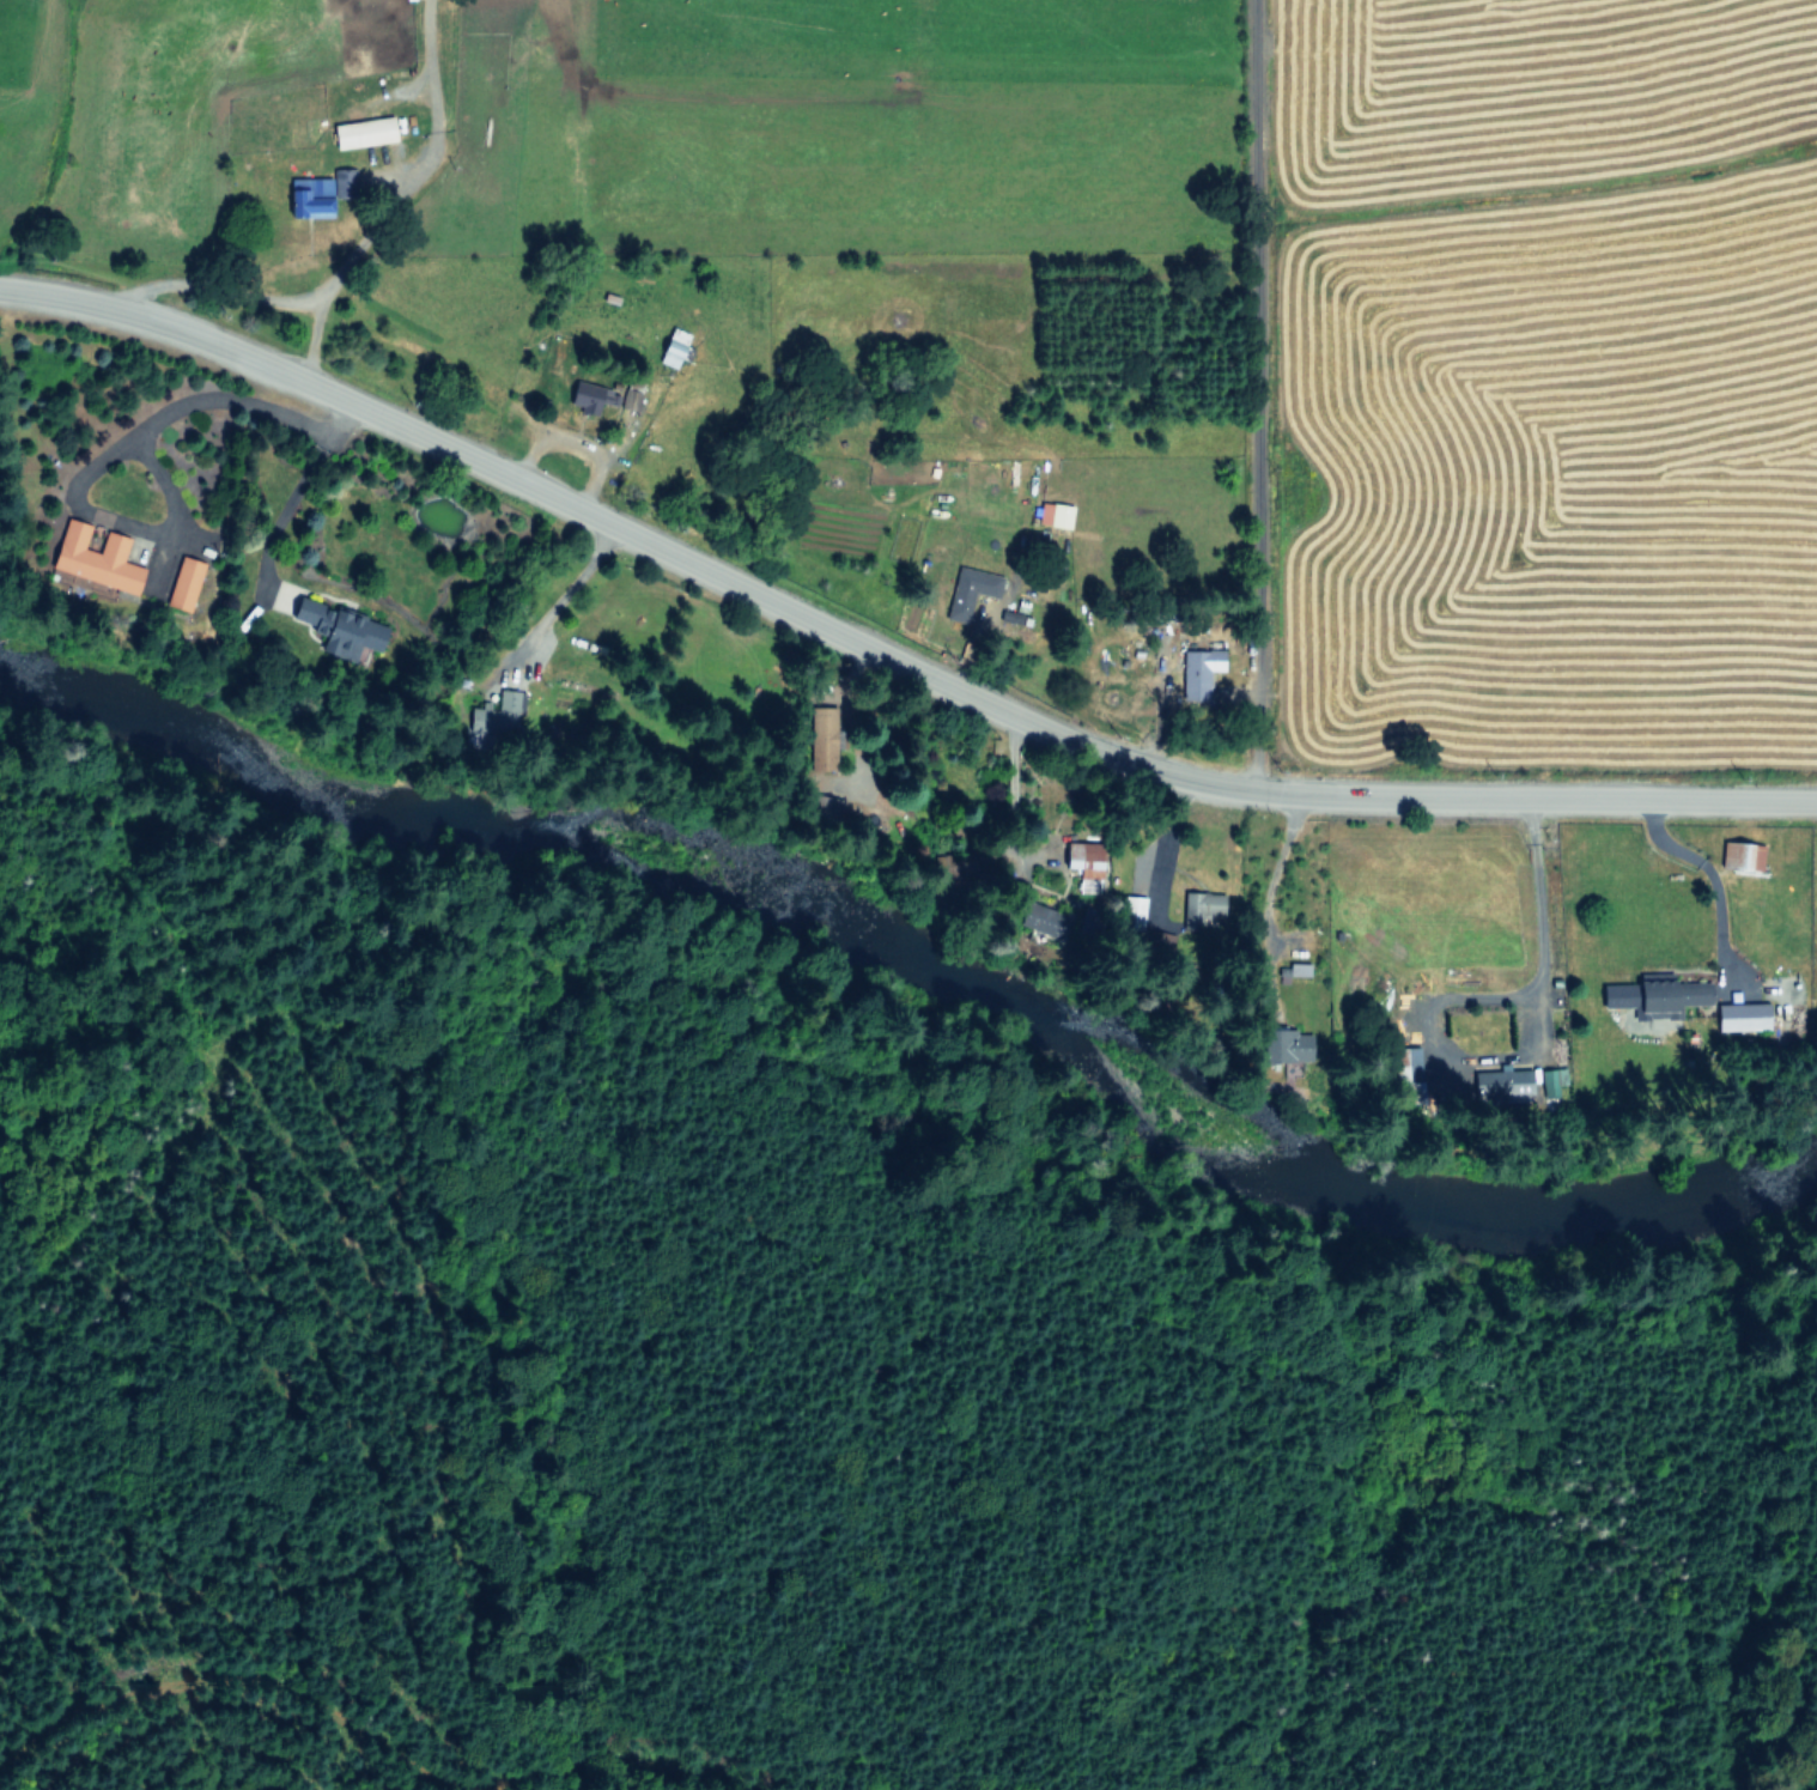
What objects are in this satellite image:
building: (360, 131)
road: (423, 171)
road: (241, 292)
building: (584, 395)
road: (1263, 396)
road: (299, 421)
road: (66, 500)
crop: (1550, 500)
road: (287, 503)
building: (1052, 512)
building: (93, 556)
building: (182, 582)
building: (971, 589)
building: (336, 626)
road: (885, 651)
building: (1197, 671)
building: (494, 711)
building: (820, 726)
building: (1736, 852)
building: (1083, 856)
road: (1706, 872)
building: (1204, 904)
road: (1531, 906)
building: (1130, 908)
building: (1654, 995)
building: (1740, 1015)
building: (1409, 1068)
building: (1500, 1082)

